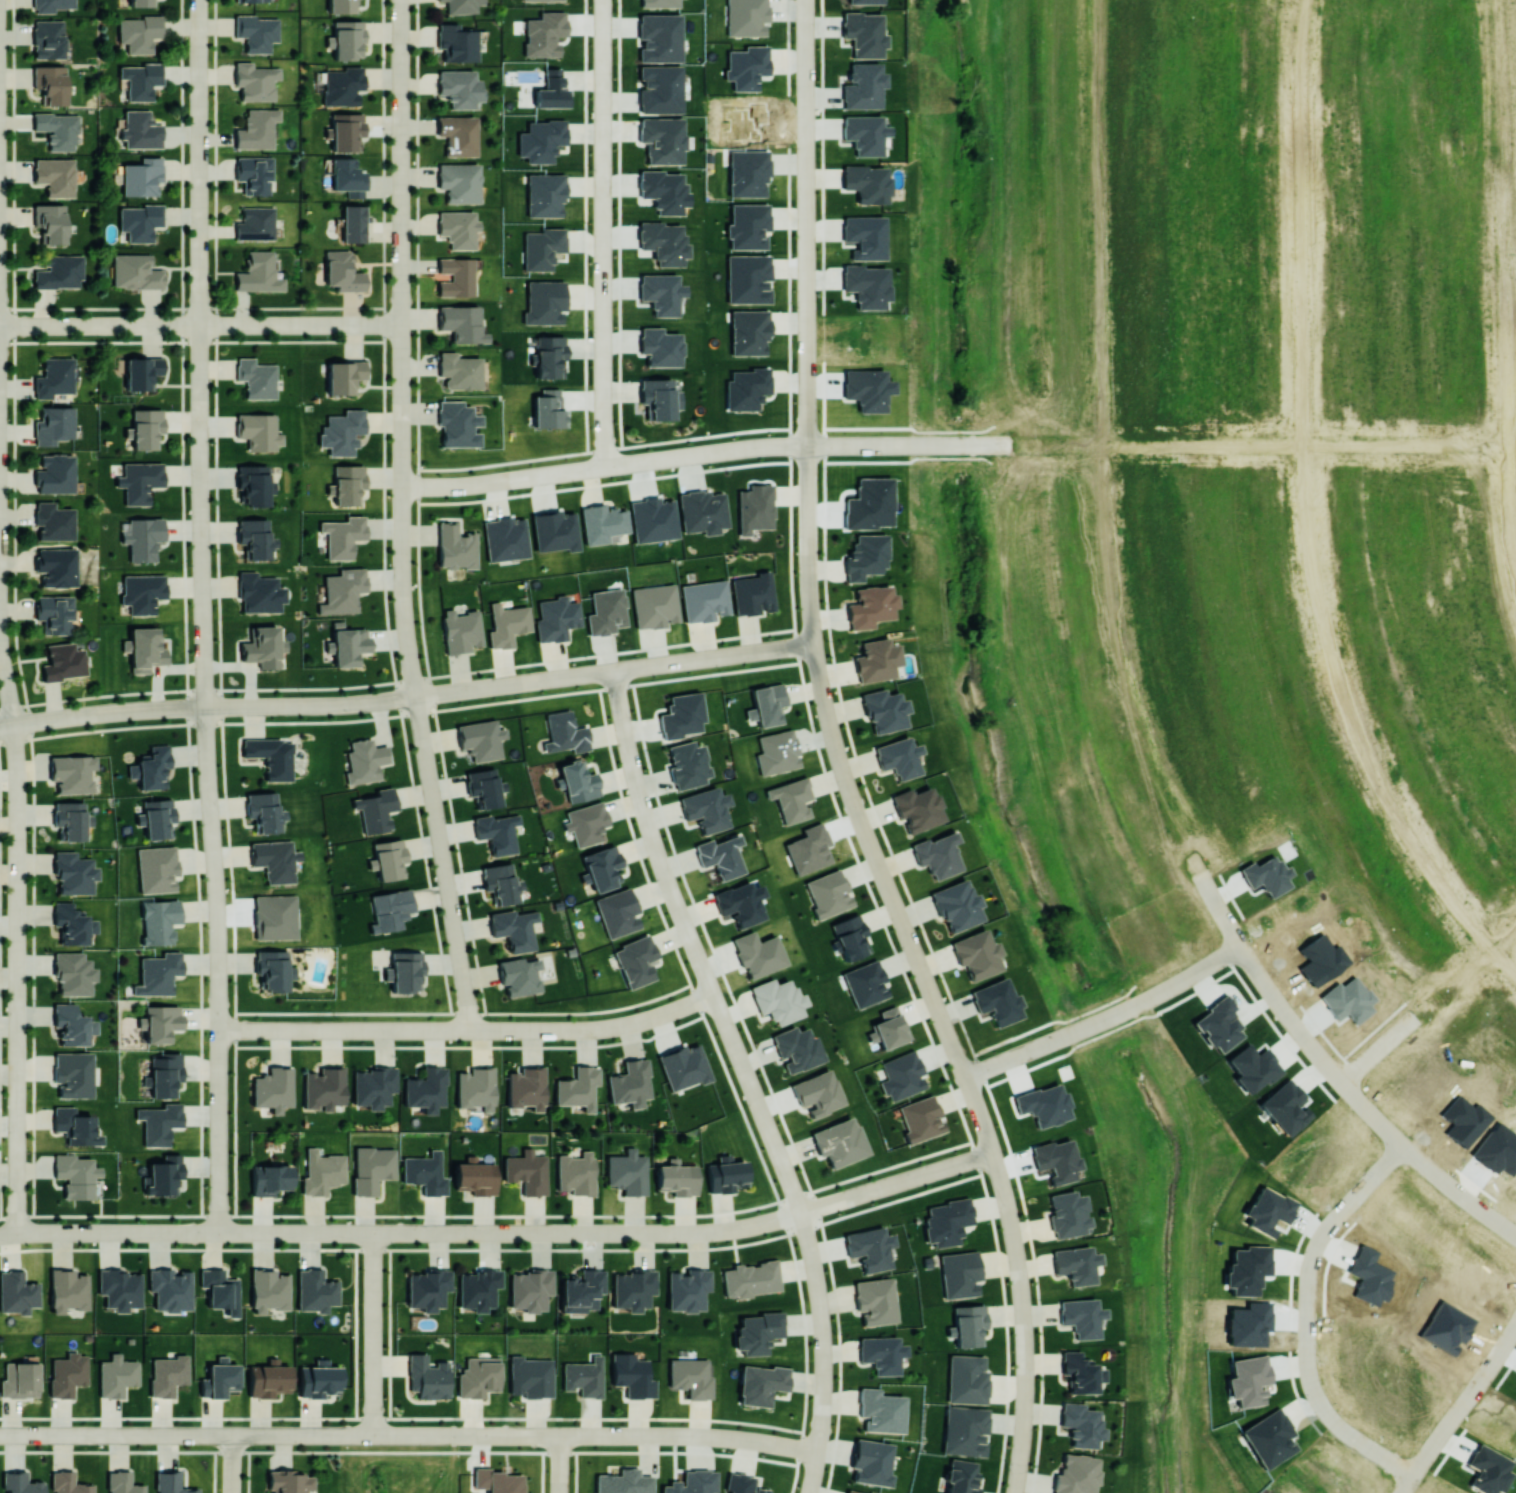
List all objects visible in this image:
building: (250, 0)
building: (549, 0)
building: (865, 1)
building: (141, 3)
building: (659, 3)
building: (51, 5)
building: (341, 6)
building: (460, 6)
building: (746, 17)
building: (257, 32)
building: (139, 33)
building: (544, 33)
building: (863, 33)
building: (659, 37)
building: (48, 38)
building: (348, 39)
building: (456, 43)
building: (746, 66)
building: (140, 79)
building: (258, 81)
building: (50, 83)
building: (863, 85)
building: (342, 86)
building: (460, 88)
building: (659, 89)
building: (551, 91)
building: (58, 129)
building: (260, 129)
building: (140, 130)
building: (346, 132)
building: (864, 133)
building: (459, 136)
building: (662, 139)
building: (541, 140)
building: (748, 173)
building: (257, 174)
building: (55, 176)
building: (142, 176)
building: (348, 177)
building: (460, 183)
building: (866, 183)
building: (664, 190)
building: (544, 194)
road: (401, 196)
building: (140, 221)
building: (51, 222)
road: (619, 223)
building: (258, 224)
building: (354, 224)
building: (748, 225)
building: (458, 229)
road: (602, 233)
building: (864, 236)
building: (663, 242)
building: (542, 247)
road: (805, 264)
building: (60, 271)
building: (136, 271)
building: (259, 272)
building: (343, 273)
building: (455, 276)
building: (748, 278)
building: (866, 284)
road: (1500, 289)
building: (660, 292)
building: (544, 302)
road: (192, 308)
building: (461, 323)
road: (200, 325)
building: (749, 331)
road: (192, 341)
building: (660, 346)
road: (200, 353)
building: (549, 356)
building: (458, 370)
building: (141, 372)
building: (343, 375)
building: (54, 377)
building: (256, 378)
building: (746, 388)
building: (867, 389)
building: (658, 398)
road: (402, 399)
building: (548, 409)
road: (824, 409)
building: (54, 424)
building: (457, 424)
road: (910, 426)
building: (146, 427)
building: (259, 430)
building: (342, 431)
park: (936, 431)
road: (754, 446)
road: (1456, 448)
road: (950, 457)
building: (55, 473)
building: (139, 480)
building: (348, 483)
road: (487, 483)
building: (254, 484)
road: (437, 486)
building: (755, 507)
road: (384, 509)
road: (418, 509)
building: (702, 511)
building: (653, 519)
building: (53, 521)
building: (602, 522)
building: (554, 531)
building: (342, 535)
building: (142, 537)
building: (255, 537)
building: (505, 538)
road: (807, 539)
building: (455, 547)
road: (402, 550)
building: (865, 556)
building: (56, 566)
building: (342, 590)
building: (142, 592)
building: (260, 592)
building: (753, 593)
building: (704, 600)
building: (654, 605)
building: (871, 606)
building: (606, 611)
building: (54, 612)
building: (556, 618)
building: (506, 624)
building: (460, 630)
building: (348, 644)
building: (263, 646)
building: (145, 649)
building: (877, 659)
building: (63, 661)
road: (663, 662)
road: (398, 680)
road: (6, 681)
road: (503, 684)
building: (768, 703)
road: (295, 705)
building: (884, 710)
road: (400, 714)
building: (681, 715)
road: (49, 718)
building: (564, 732)
building: (480, 739)
building: (777, 752)
building: (271, 756)
building: (899, 757)
building: (364, 760)
road: (822, 761)
building: (687, 764)
building: (151, 768)
building: (72, 772)
building: (578, 781)
building: (484, 787)
building: (791, 799)
road: (871, 806)
building: (705, 808)
building: (916, 808)
building: (375, 809)
building: (264, 811)
building: (156, 817)
building: (70, 819)
road: (861, 819)
building: (586, 823)
building: (496, 832)
building: (809, 849)
building: (937, 854)
building: (720, 855)
building: (389, 858)
building: (275, 860)
road: (443, 862)
building: (602, 867)
building: (157, 868)
building: (73, 873)
building: (500, 882)
park: (1078, 882)
building: (828, 893)
building: (740, 902)
building: (956, 905)
building: (390, 909)
building: (617, 912)
building: (274, 916)
road: (1467, 919)
building: (159, 920)
building: (71, 923)
building: (514, 928)
building: (851, 937)
building: (758, 953)
building: (976, 953)
building: (635, 960)
road: (220, 969)
building: (273, 970)
building: (405, 970)
building: (73, 973)
building: (158, 973)
building: (520, 975)
road: (16, 979)
building: (865, 983)
building: (777, 1000)
building: (997, 1001)
road: (1429, 1003)
road: (680, 1006)
road: (1106, 1017)
building: (161, 1022)
building: (71, 1025)
road: (616, 1025)
building: (889, 1027)
road: (406, 1028)
building: (795, 1048)
building: (683, 1066)
building: (1252, 1067)
building: (72, 1073)
building: (165, 1074)
road: (749, 1075)
building: (902, 1075)
road: (1337, 1075)
building: (629, 1083)
building: (372, 1086)
building: (322, 1087)
building: (576, 1087)
building: (475, 1088)
building: (525, 1088)
building: (273, 1089)
building: (425, 1089)
building: (817, 1092)
building: (1284, 1107)
building: (920, 1118)
building: (159, 1122)
building: (74, 1126)
building: (839, 1141)
building: (1056, 1159)
building: (372, 1168)
building: (322, 1171)
building: (527, 1171)
building: (627, 1172)
building: (425, 1173)
building: (576, 1173)
building: (725, 1174)
building: (75, 1175)
building: (164, 1175)
building: (475, 1176)
building: (676, 1178)
building: (269, 1179)
road: (855, 1194)
building: (1067, 1214)
building: (946, 1221)
road: (711, 1231)
road: (462, 1232)
road: (108, 1233)
building: (869, 1247)
road: (1015, 1255)
building: (1075, 1264)
building: (1246, 1268)
building: (960, 1273)
building: (749, 1279)
building: (119, 1288)
building: (170, 1288)
building: (426, 1288)
building: (477, 1288)
building: (529, 1289)
building: (632, 1289)
building: (686, 1289)
building: (68, 1290)
building: (220, 1290)
building: (268, 1290)
building: (315, 1290)
building: (581, 1290)
building: (17, 1292)
building: (874, 1300)
building: (1081, 1317)
road: (1307, 1317)
building: (969, 1324)
building: (757, 1332)
road: (373, 1333)
road: (1040, 1344)
building: (881, 1353)
building: (1079, 1372)
building: (67, 1374)
building: (167, 1374)
building: (117, 1375)
building: (632, 1375)
building: (427, 1377)
building: (478, 1377)
building: (530, 1377)
building: (584, 1377)
building: (691, 1377)
building: (219, 1378)
building: (20, 1379)
building: (268, 1379)
building: (318, 1379)
building: (967, 1379)
building: (760, 1383)
road: (1458, 1407)
building: (881, 1411)
building: (1080, 1424)
building: (965, 1430)
road: (509, 1433)
road: (398, 1434)
road: (455, 1434)
road: (171, 1435)
road: (689, 1436)
building: (871, 1462)
park: (400, 1463)
road: (559, 1463)
road: (231, 1464)
road: (1018, 1468)
building: (1076, 1473)
building: (961, 1476)
building: (497, 1480)
building: (288, 1481)
building: (623, 1482)
building: (692, 1482)
building: (20, 1483)
building: (68, 1483)
building: (123, 1483)
building: (171, 1483)
building: (742, 1484)
building: (852, 1491)

